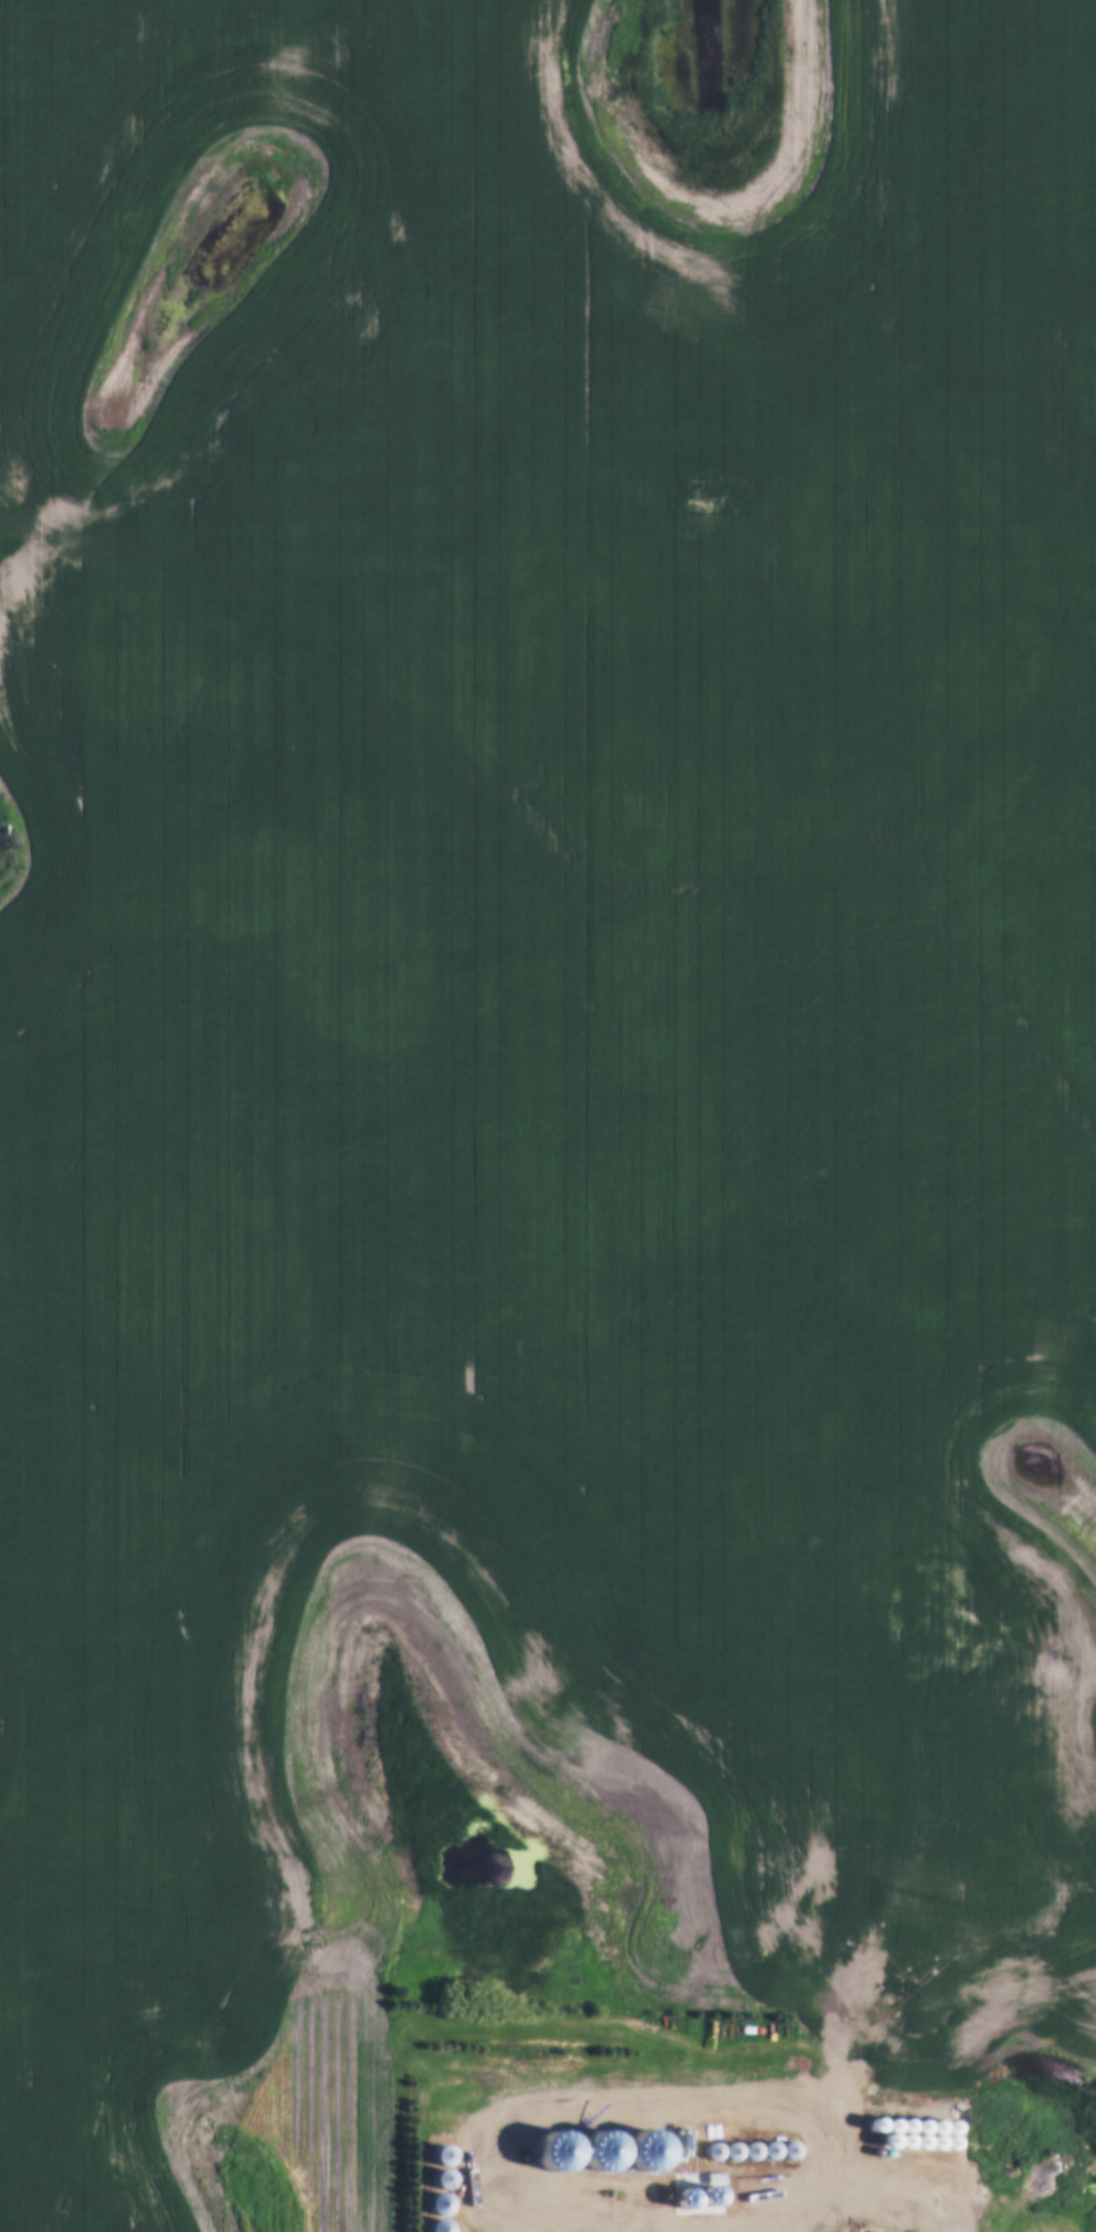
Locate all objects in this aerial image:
building: (873, 2090)
silo: (873, 2090)
building: (884, 2092)
silo: (884, 2092)
building: (895, 2093)
silo: (895, 2093)
building: (906, 2094)
silo: (906, 2094)
building: (918, 2094)
silo: (918, 2094)
building: (930, 2095)
silo: (930, 2095)
building: (891, 2116)
silo: (891, 2116)
building: (905, 2117)
silo: (905, 2117)
building: (920, 2117)
silo: (920, 2117)
building: (936, 2117)
silo: (936, 2117)
building: (648, 2127)
silo: (648, 2127)
building: (890, 2131)
silo: (890, 2131)
building: (905, 2131)
silo: (905, 2131)
building: (920, 2131)
silo: (920, 2131)
building: (936, 2131)
silo: (936, 2131)
building: (663, 2137)
silo: (663, 2137)
building: (719, 2137)
silo: (719, 2137)
building: (738, 2137)
silo: (738, 2137)
building: (757, 2137)
silo: (757, 2137)
building: (776, 2137)
silo: (776, 2137)
building: (680, 2138)
silo: (680, 2138)
building: (700, 2138)
silo: (700, 2138)
building: (619, 2139)
silo: (619, 2139)
building: (427, 2141)
silo: (427, 2141)
building: (669, 2152)
silo: (669, 2152)
building: (522, 2155)
silo: (522, 2155)
building: (541, 2156)
silo: (541, 2156)
building: (561, 2156)
silo: (561, 2156)
building: (579, 2156)
silo: (579, 2156)
building: (597, 2156)
silo: (597, 2156)
building: (614, 2156)
silo: (614, 2156)
building: (427, 2165)
silo: (427, 2165)
building: (620, 2187)
silo: (620, 2187)
building: (426, 2190)
silo: (426, 2190)
road: (844, 2190)
building: (426, 2218)
silo: (426, 2218)
building: (511, 2230)
silo: (511, 2230)
building: (538, 2230)
silo: (538, 2230)
building: (564, 2230)
silo: (564, 2230)
building: (589, 2230)
silo: (589, 2230)
building: (867, 2231)

